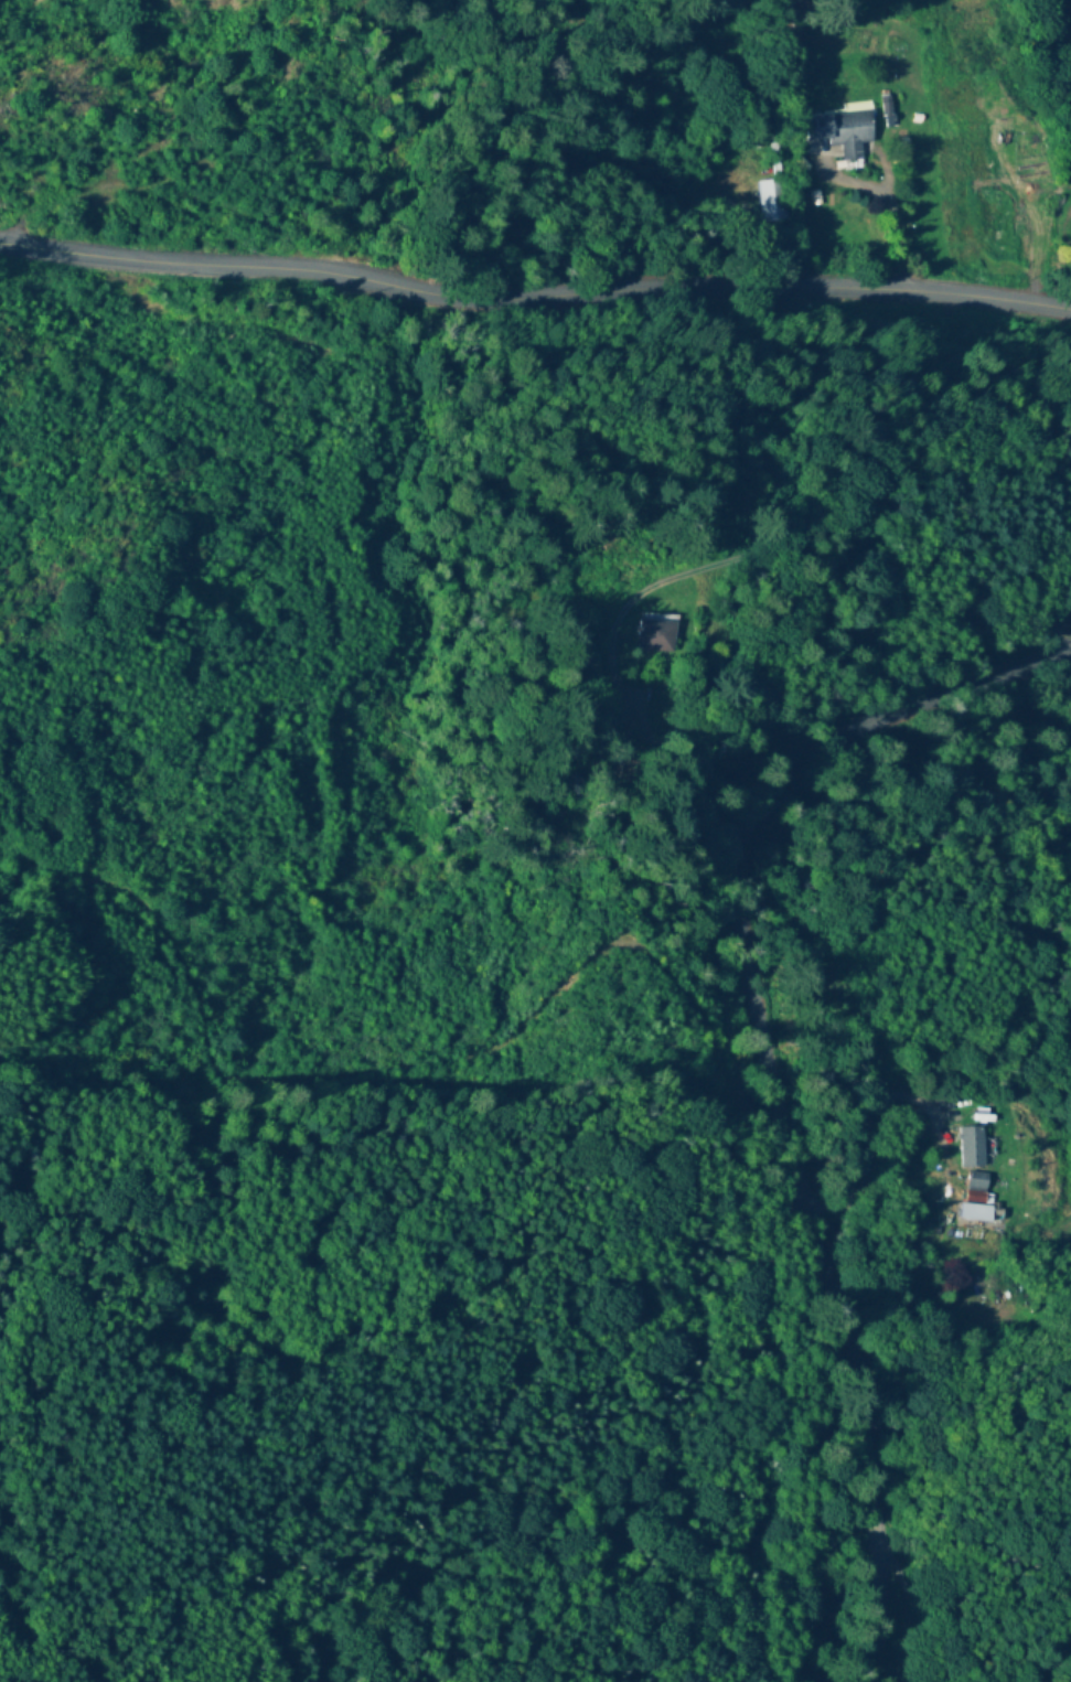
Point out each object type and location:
building: (839, 131)
building: (771, 200)
road: (536, 267)
building: (658, 632)
road: (642, 700)
road: (777, 1073)
building: (970, 1145)
building: (974, 1212)

